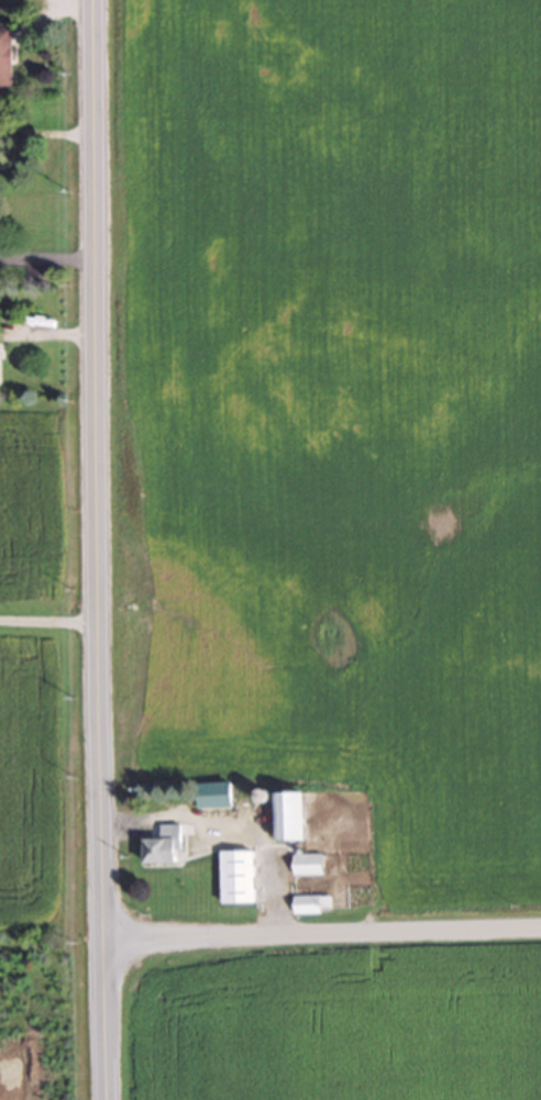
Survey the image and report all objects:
building: (5, 55)
road: (47, 258)
road: (97, 549)
road: (48, 618)
building: (216, 793)
building: (292, 815)
building: (163, 851)
building: (308, 863)
building: (238, 876)
building: (307, 903)
road: (321, 935)

